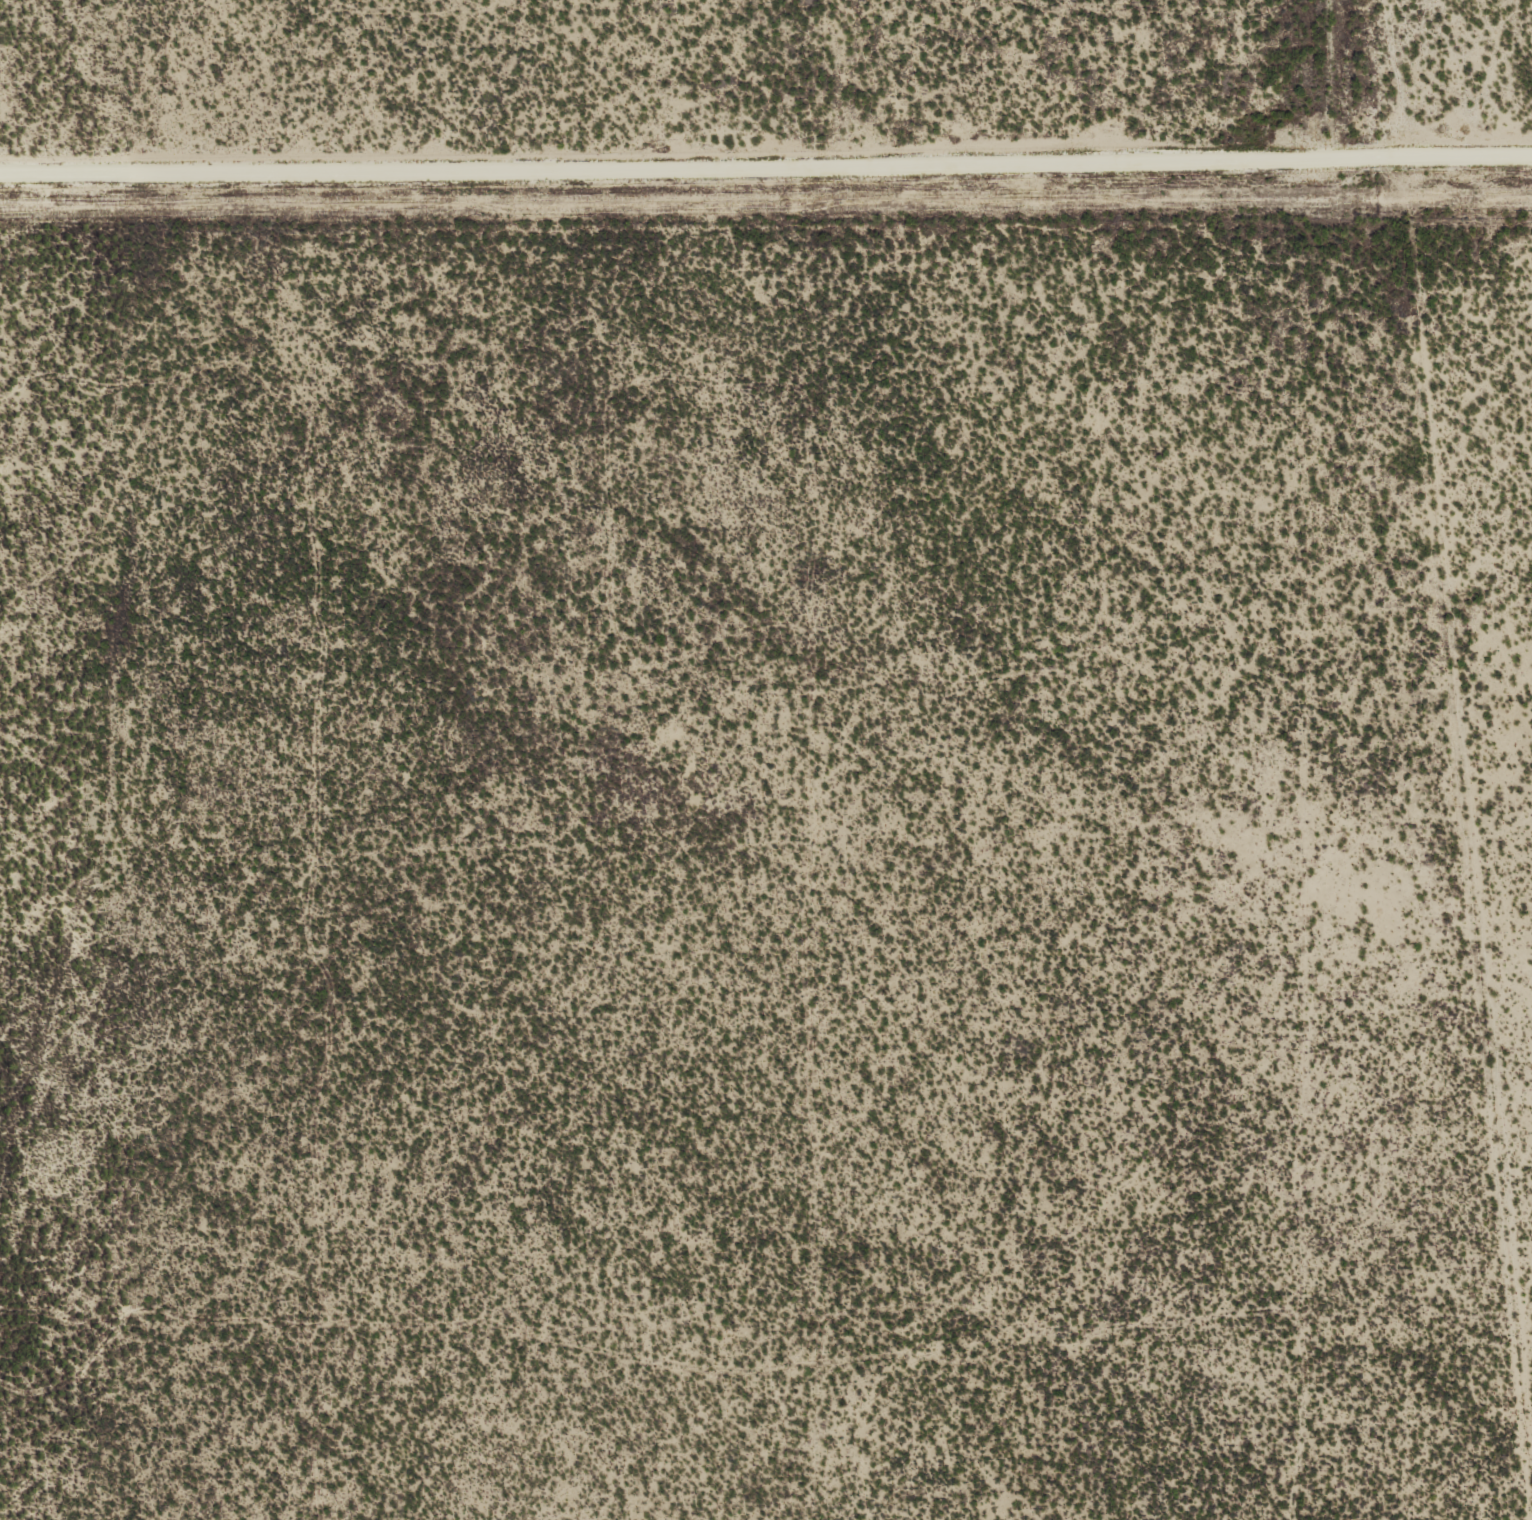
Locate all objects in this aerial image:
road: (1100, 228)

